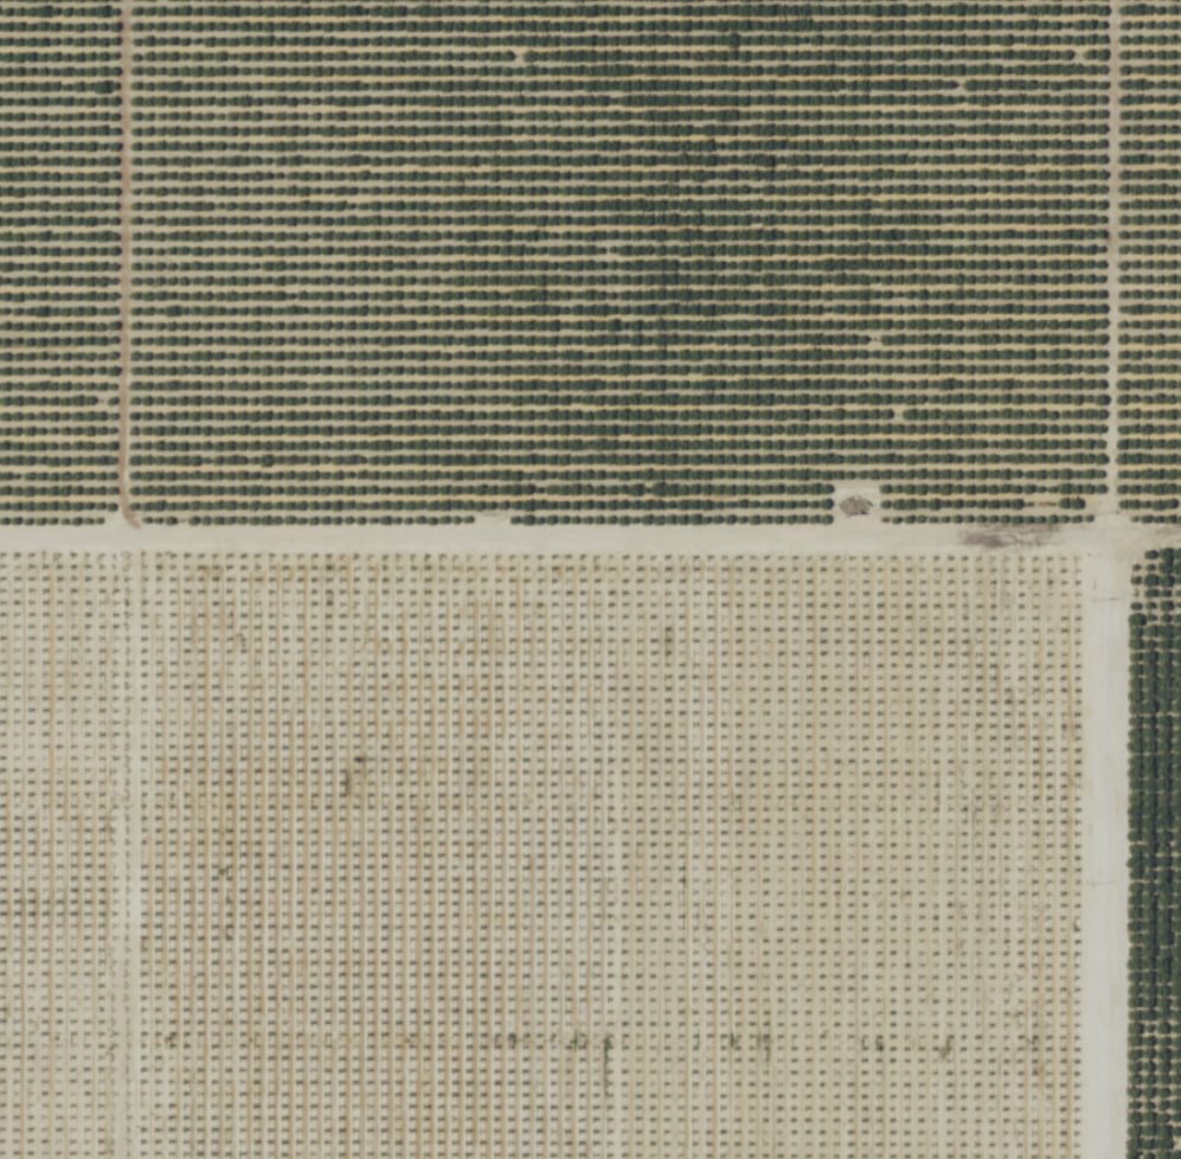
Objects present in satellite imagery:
road: (114, 270)
road: (590, 539)
road: (1093, 578)

